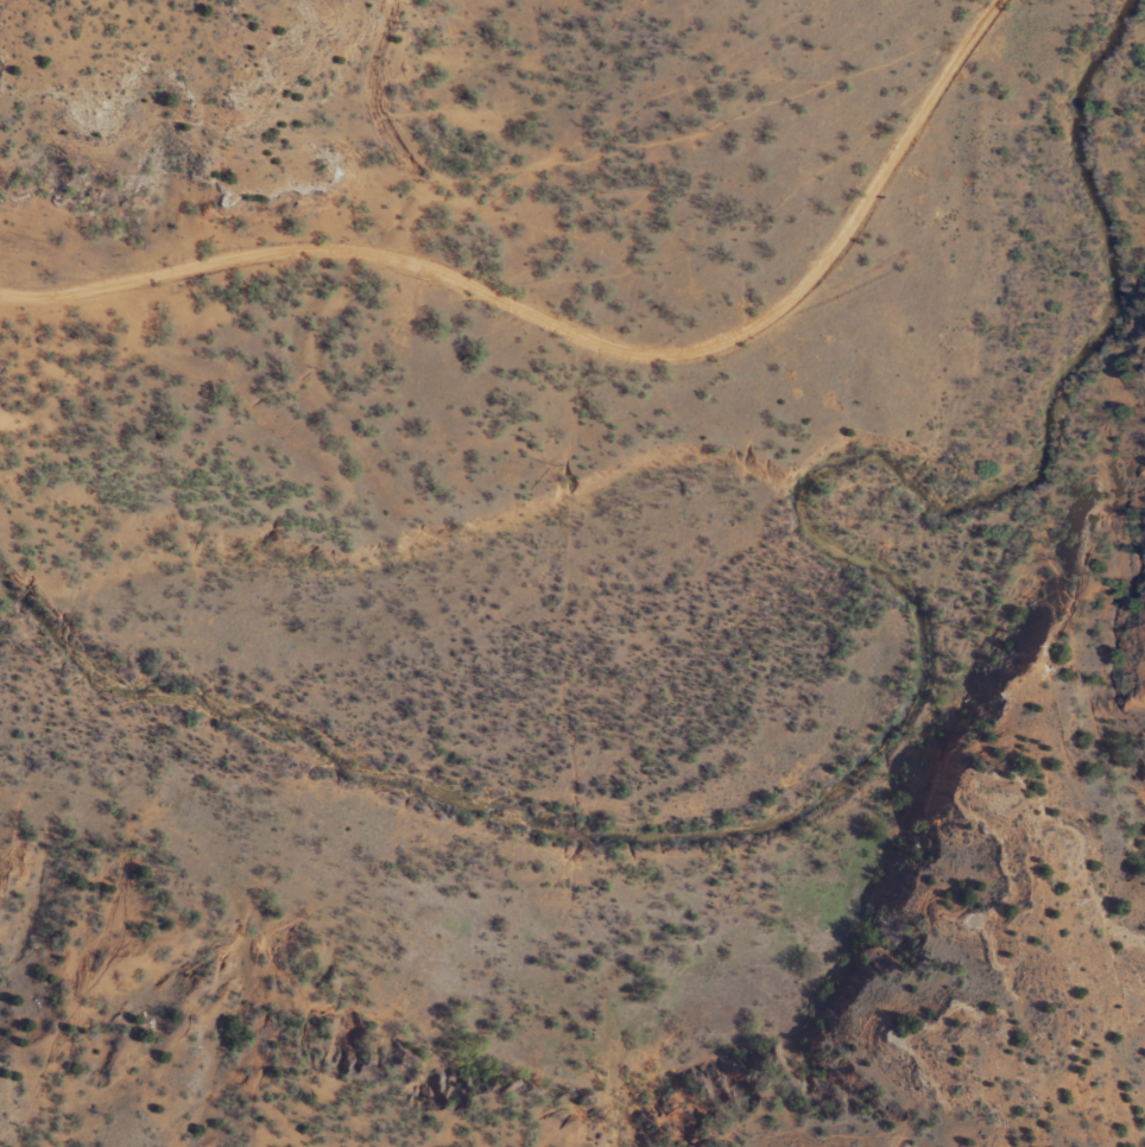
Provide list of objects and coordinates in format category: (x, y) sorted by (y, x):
road: (577, 327)

